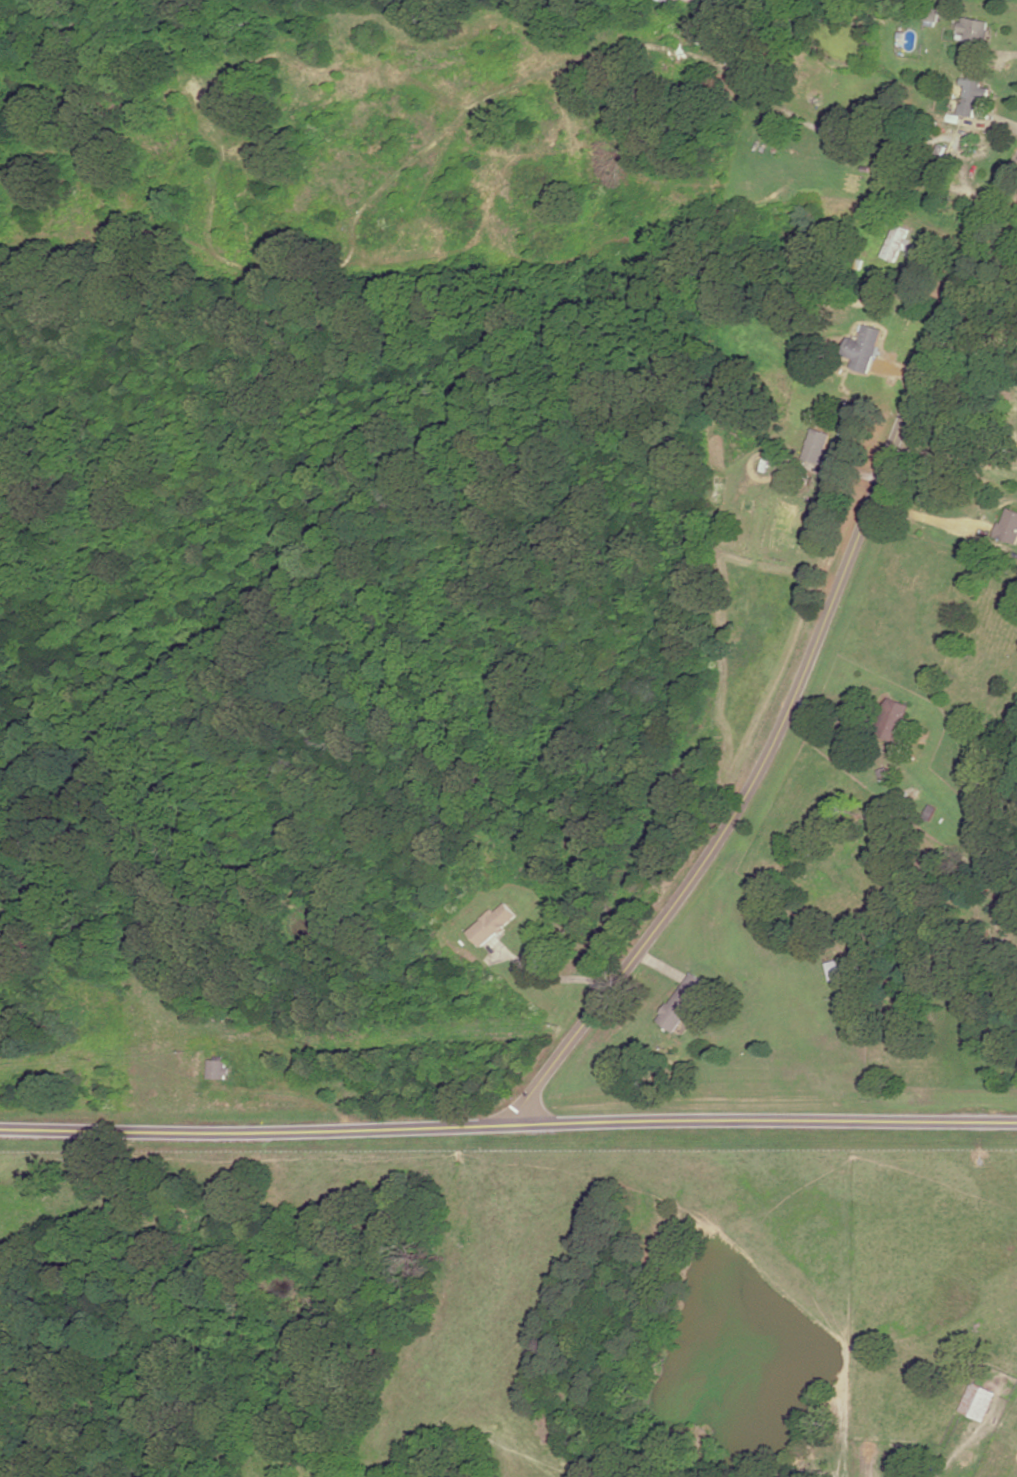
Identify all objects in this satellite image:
building: (975, 34)
building: (974, 92)
building: (899, 241)
building: (863, 348)
building: (818, 445)
road: (954, 456)
road: (922, 513)
building: (1009, 526)
road: (808, 668)
building: (895, 719)
building: (493, 925)
building: (835, 970)
road: (671, 973)
road: (550, 977)
building: (683, 1010)
building: (219, 1069)
road: (508, 1125)
building: (979, 1402)

